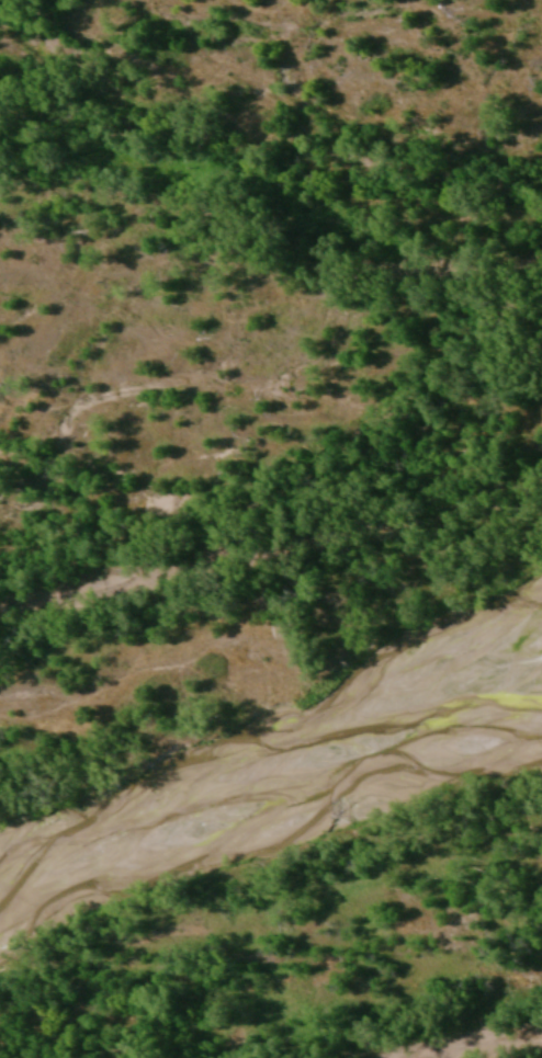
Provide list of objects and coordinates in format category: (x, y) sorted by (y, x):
river: (259, 758)

